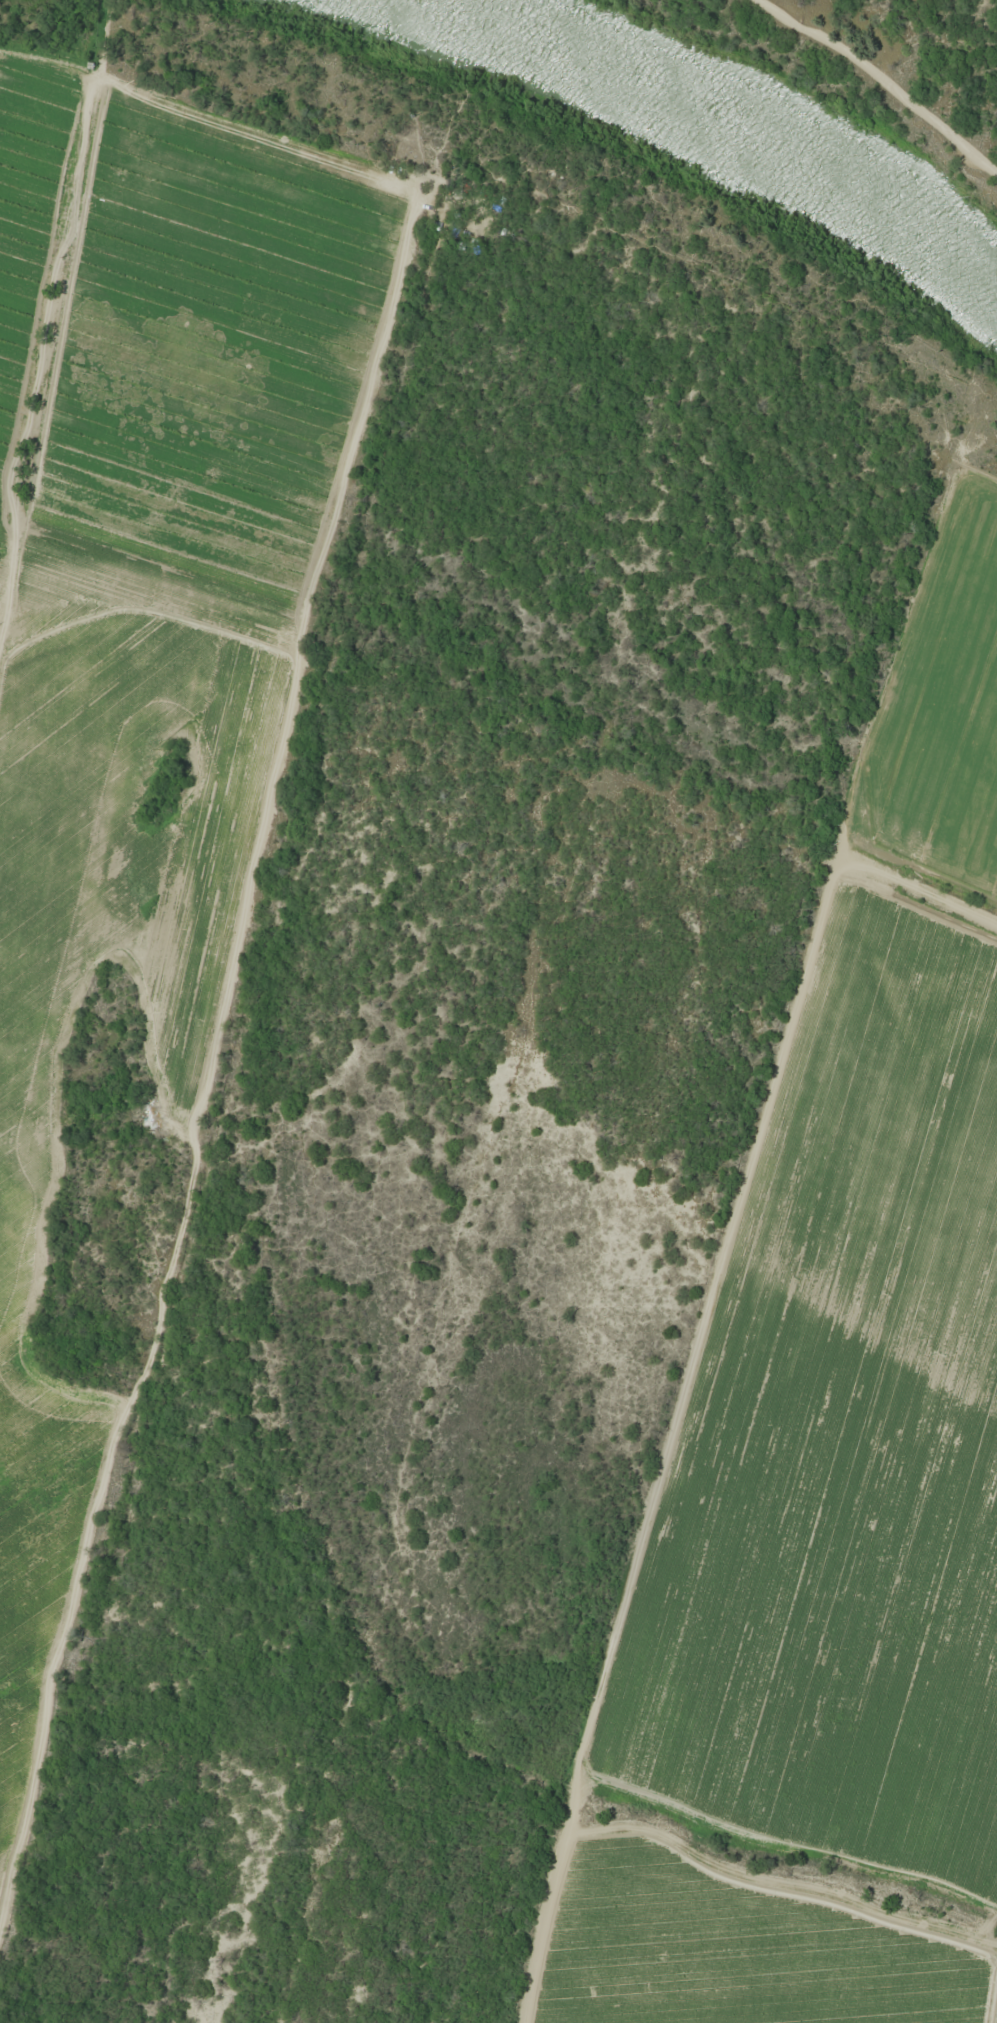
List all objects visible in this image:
river: (733, 124)

